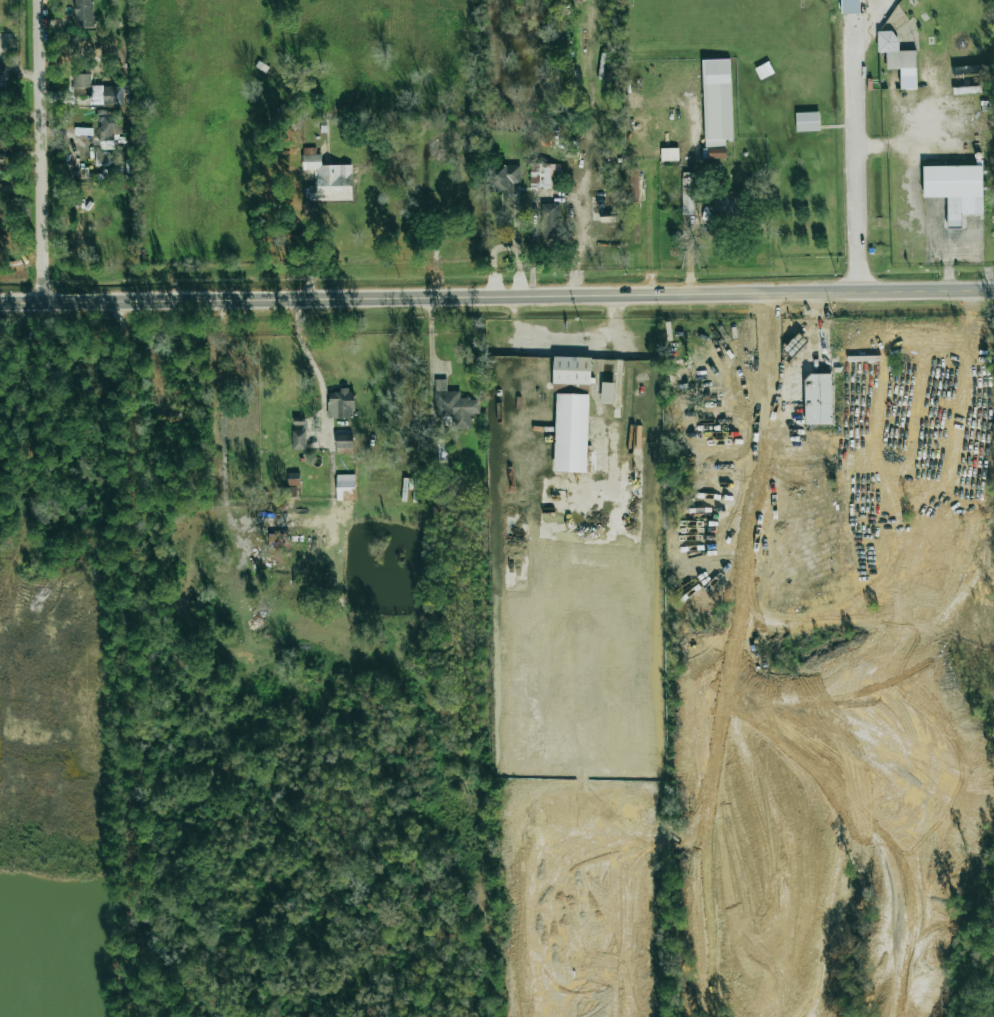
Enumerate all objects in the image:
building: (83, 13)
road: (863, 16)
building: (899, 58)
building: (2, 78)
building: (95, 91)
building: (716, 107)
building: (807, 121)
building: (109, 125)
road: (855, 146)
building: (443, 148)
road: (36, 151)
building: (669, 154)
building: (544, 175)
building: (327, 178)
building: (503, 178)
building: (956, 189)
building: (726, 203)
building: (549, 221)
road: (572, 245)
road: (517, 249)
road: (491, 260)
road: (945, 262)
road: (497, 297)
road: (569, 343)
road: (622, 349)
road: (312, 365)
road: (769, 366)
building: (572, 370)
building: (607, 393)
road: (615, 393)
road: (626, 393)
building: (817, 399)
building: (341, 404)
building: (453, 405)
building: (571, 433)
building: (298, 440)
building: (343, 441)
building: (293, 479)
building: (345, 487)
building: (290, 492)
road: (611, 492)

